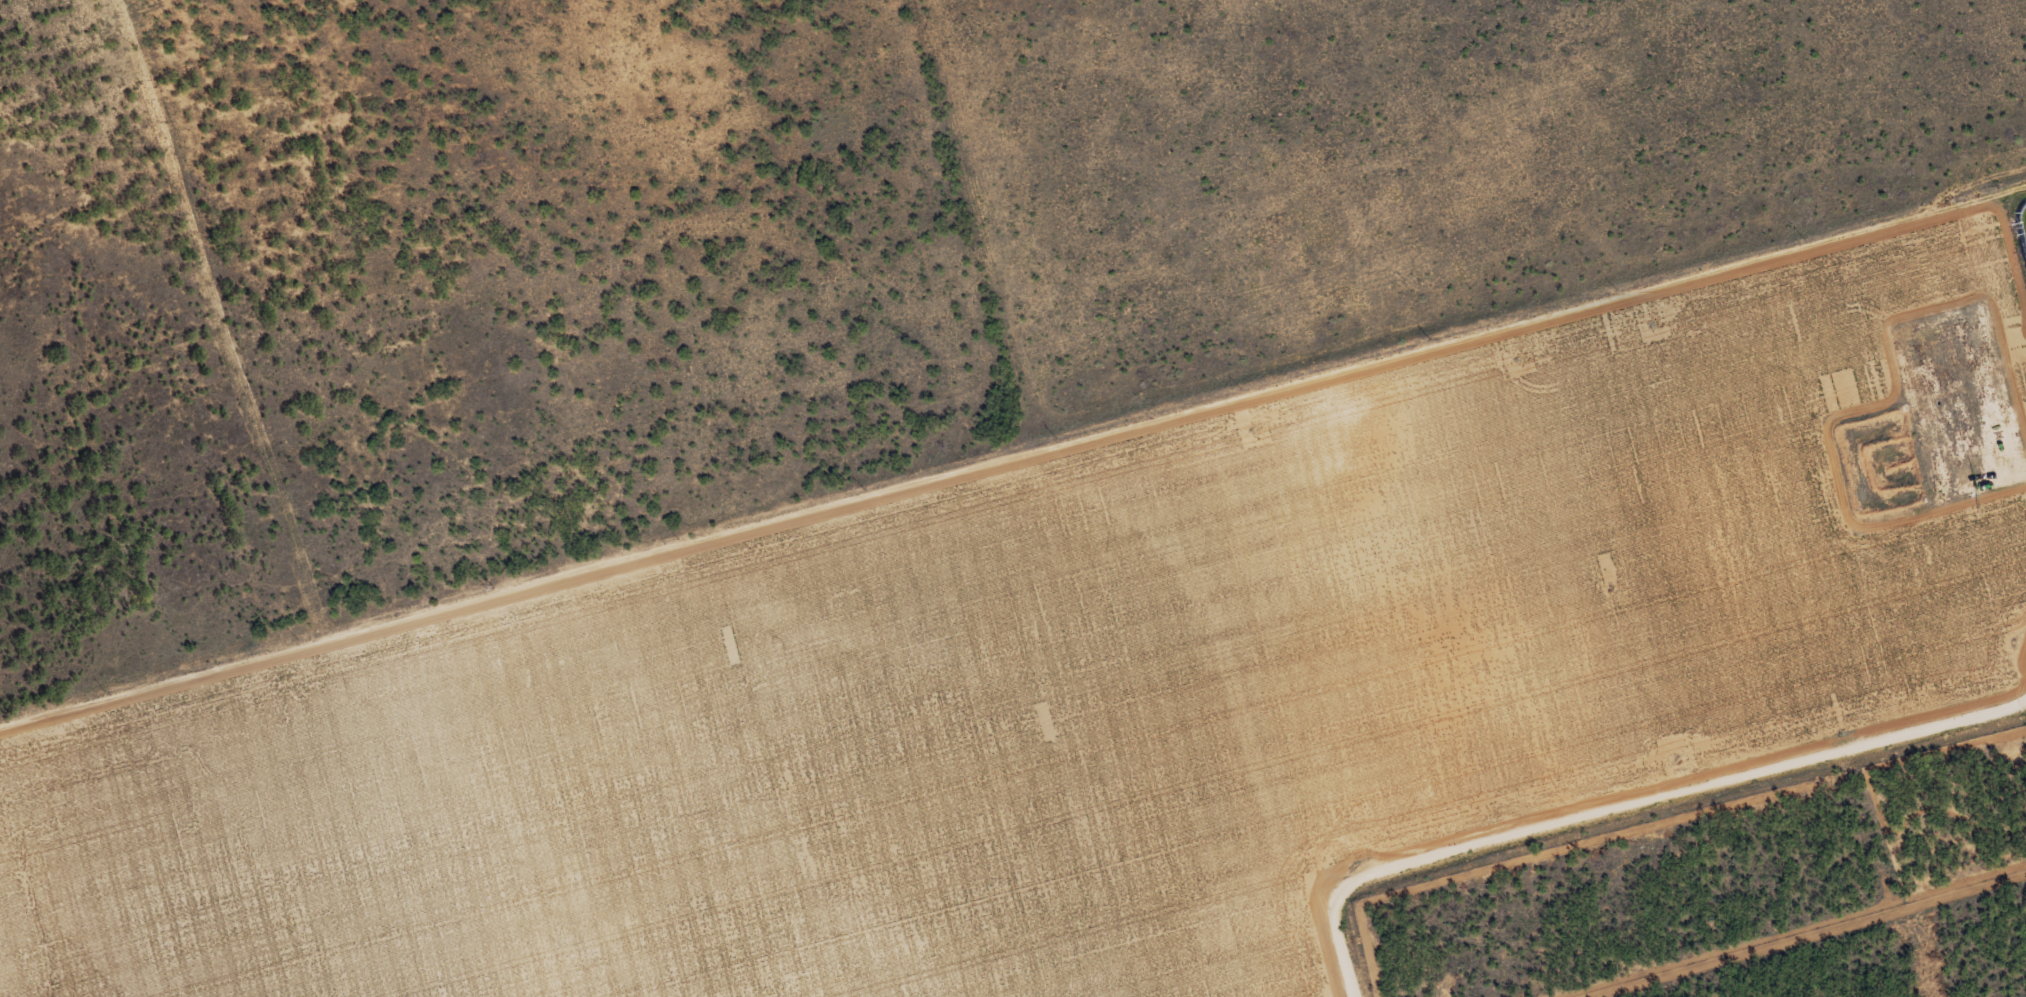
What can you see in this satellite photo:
road: (1013, 453)

